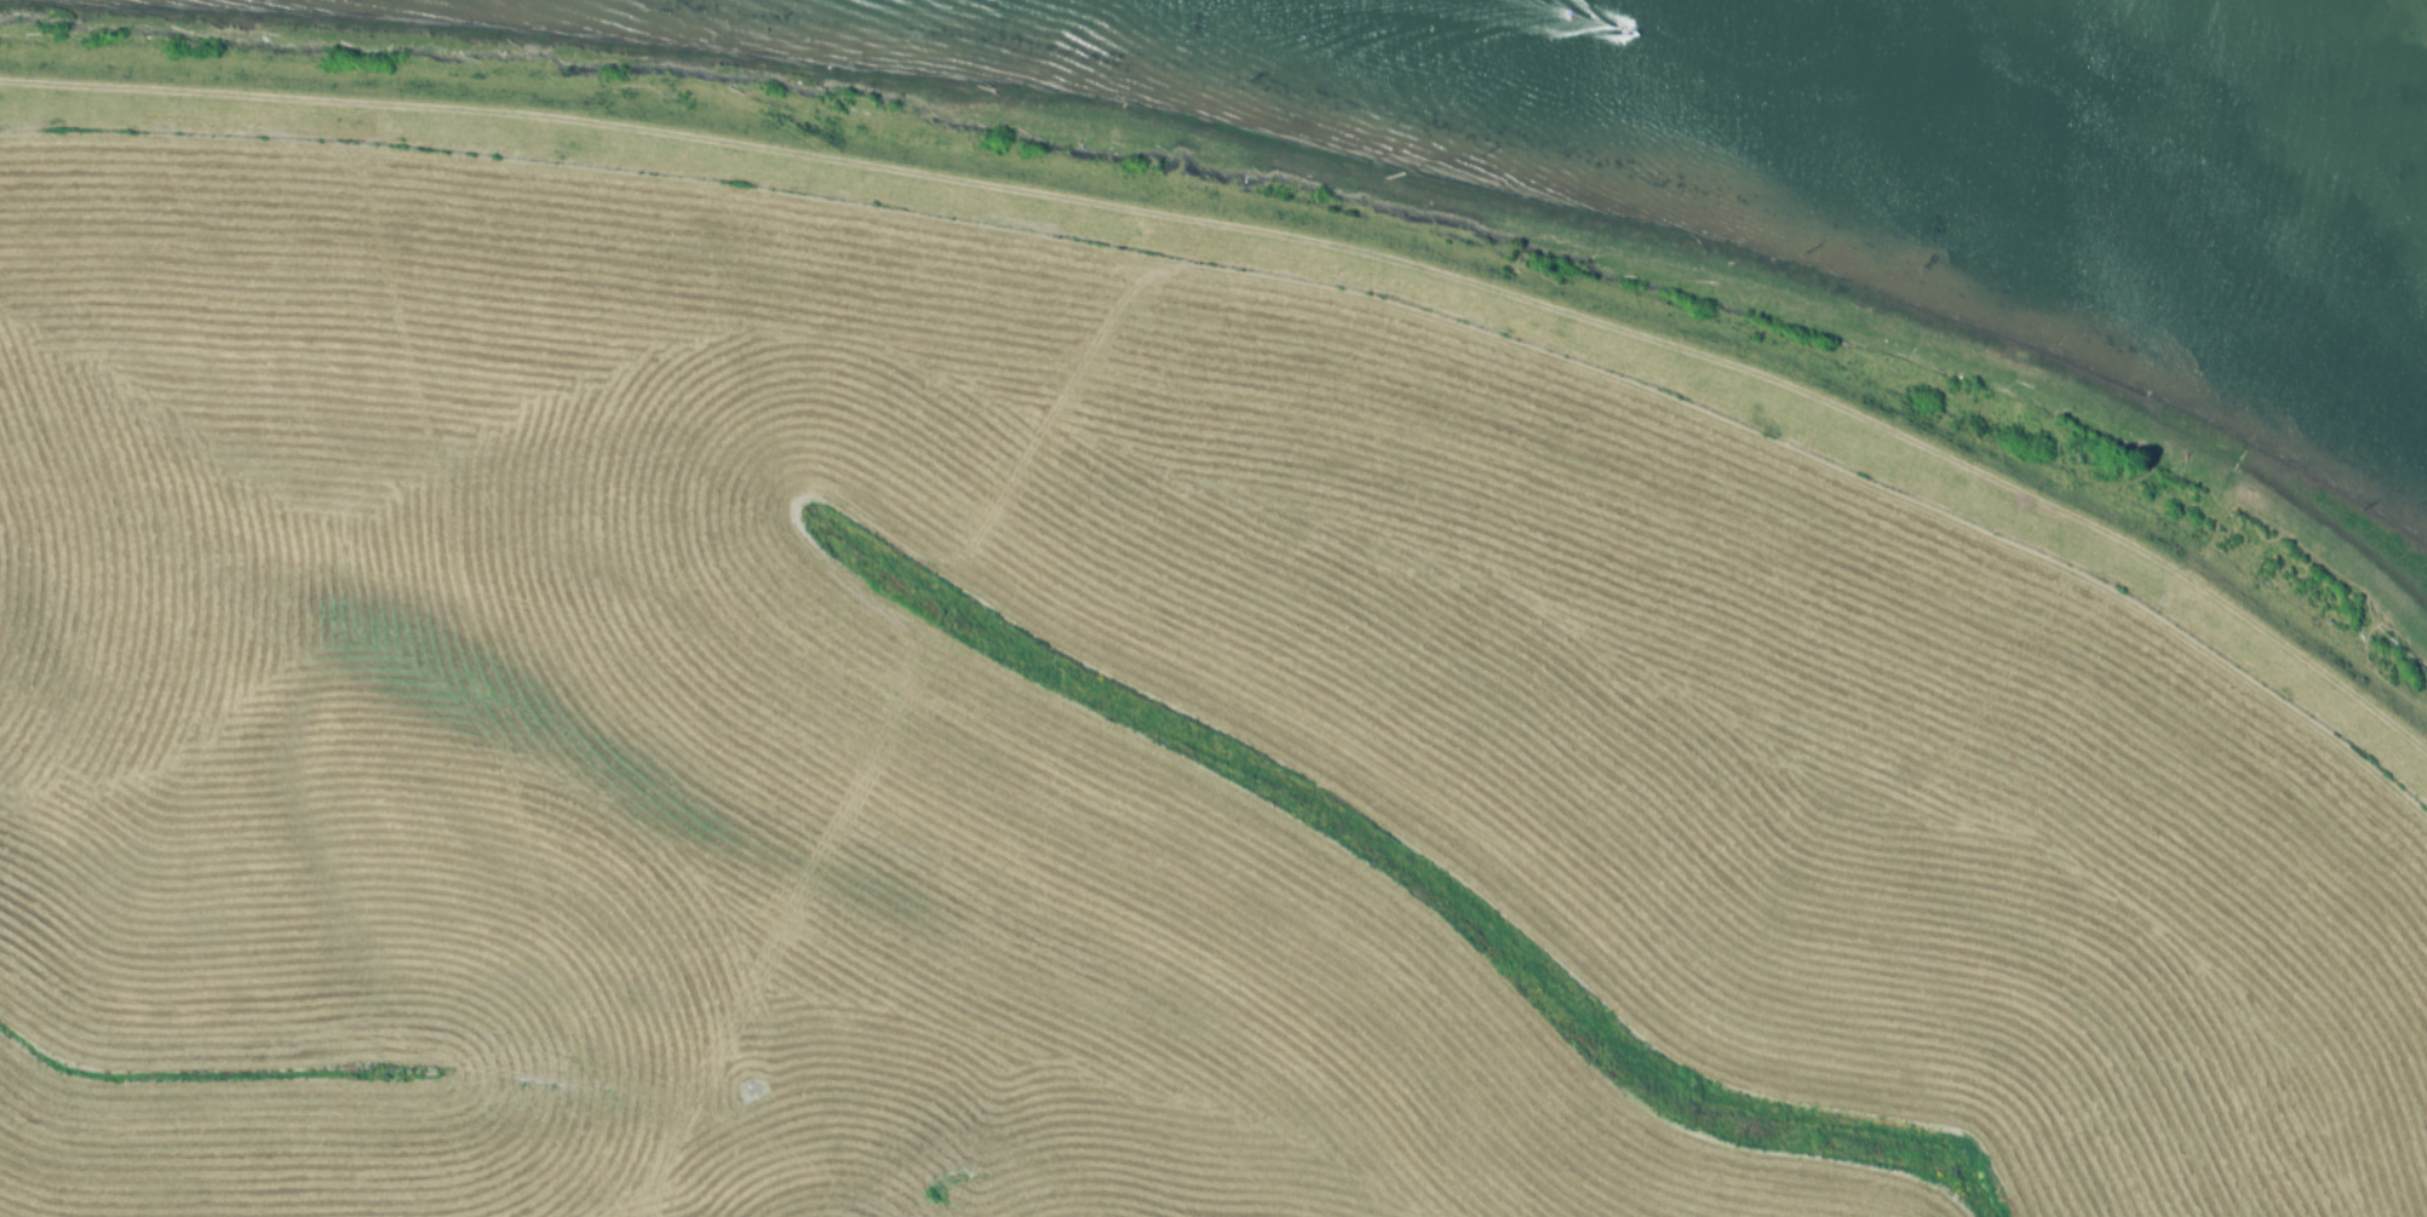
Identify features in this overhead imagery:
river: (2136, 108)
road: (1268, 239)
crop: (1074, 762)

